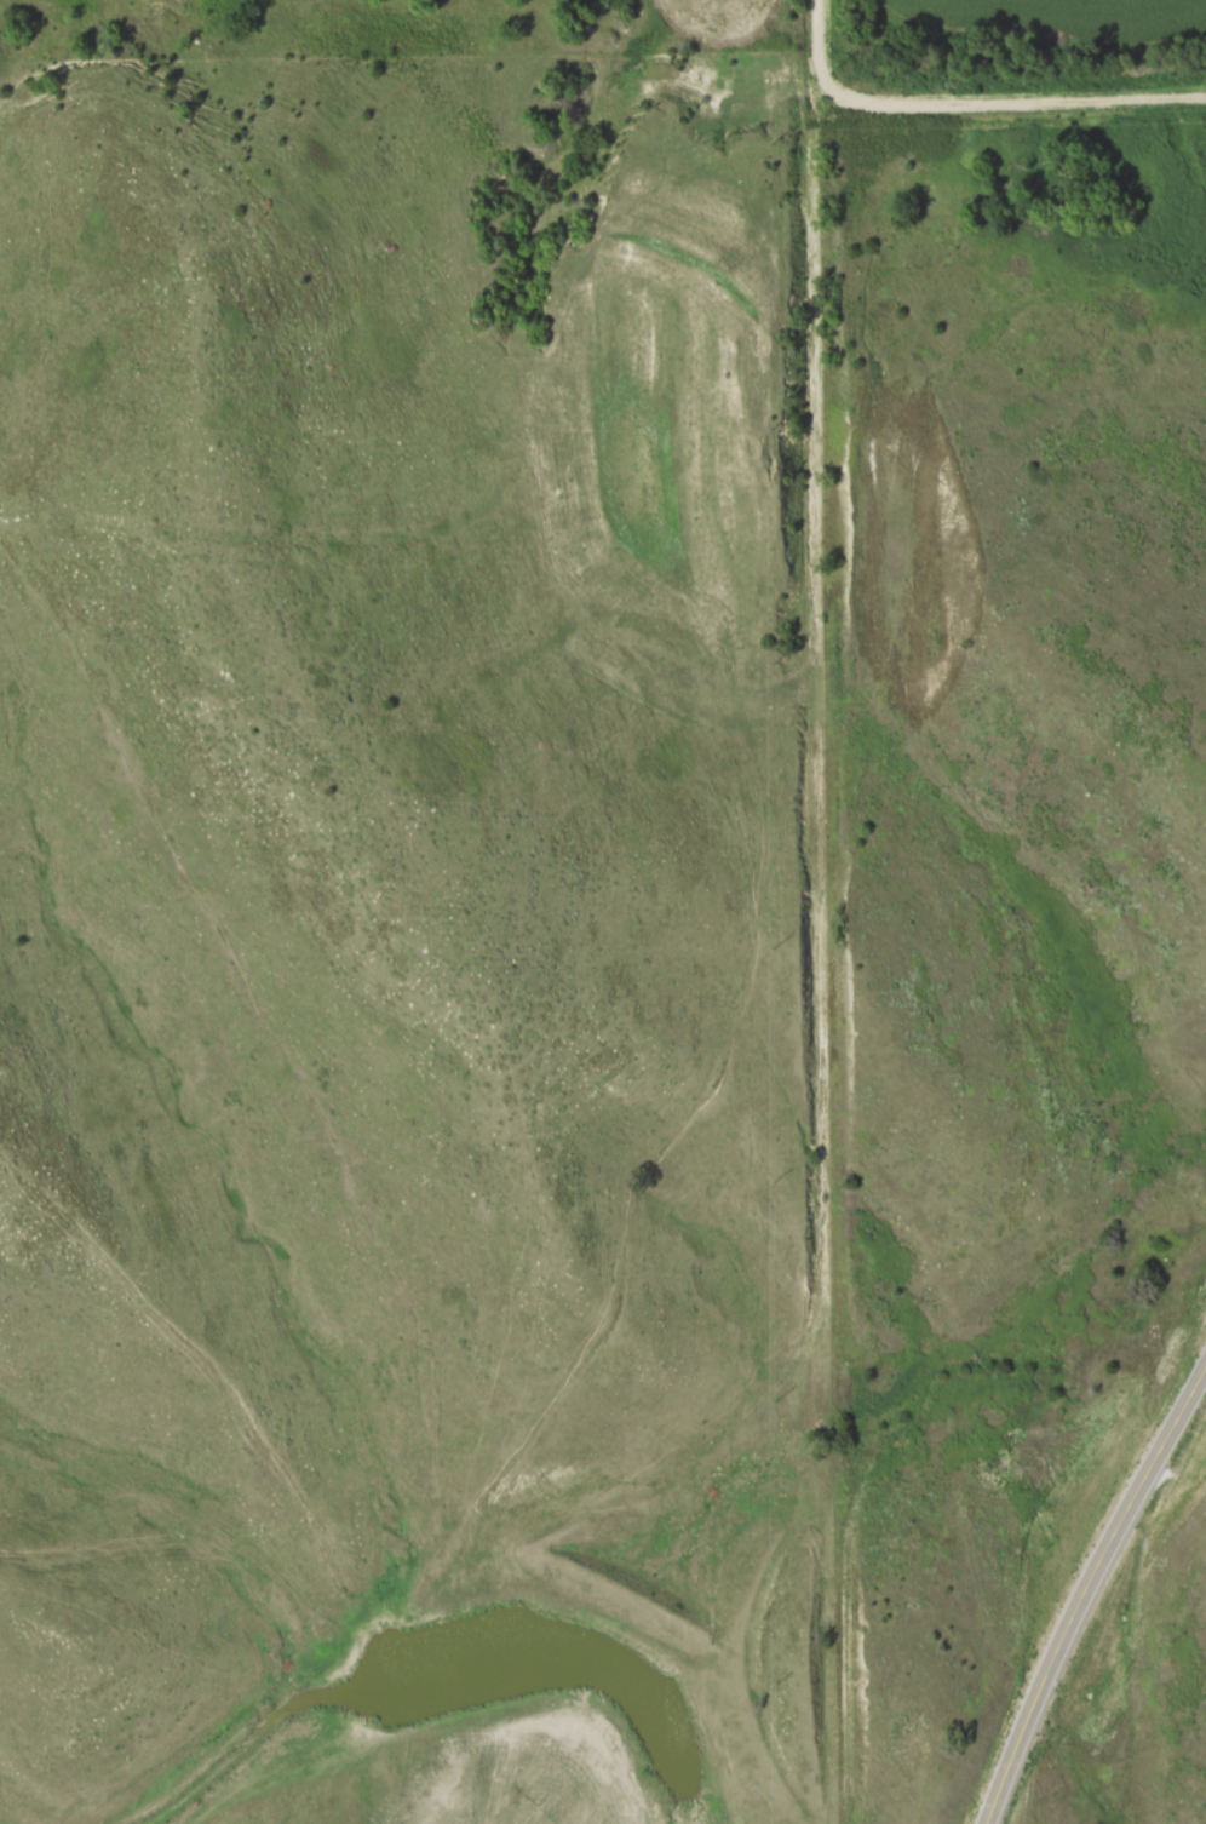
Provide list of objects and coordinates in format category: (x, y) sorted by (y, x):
road: (817, 67)
road: (1035, 104)
road: (1085, 1590)

